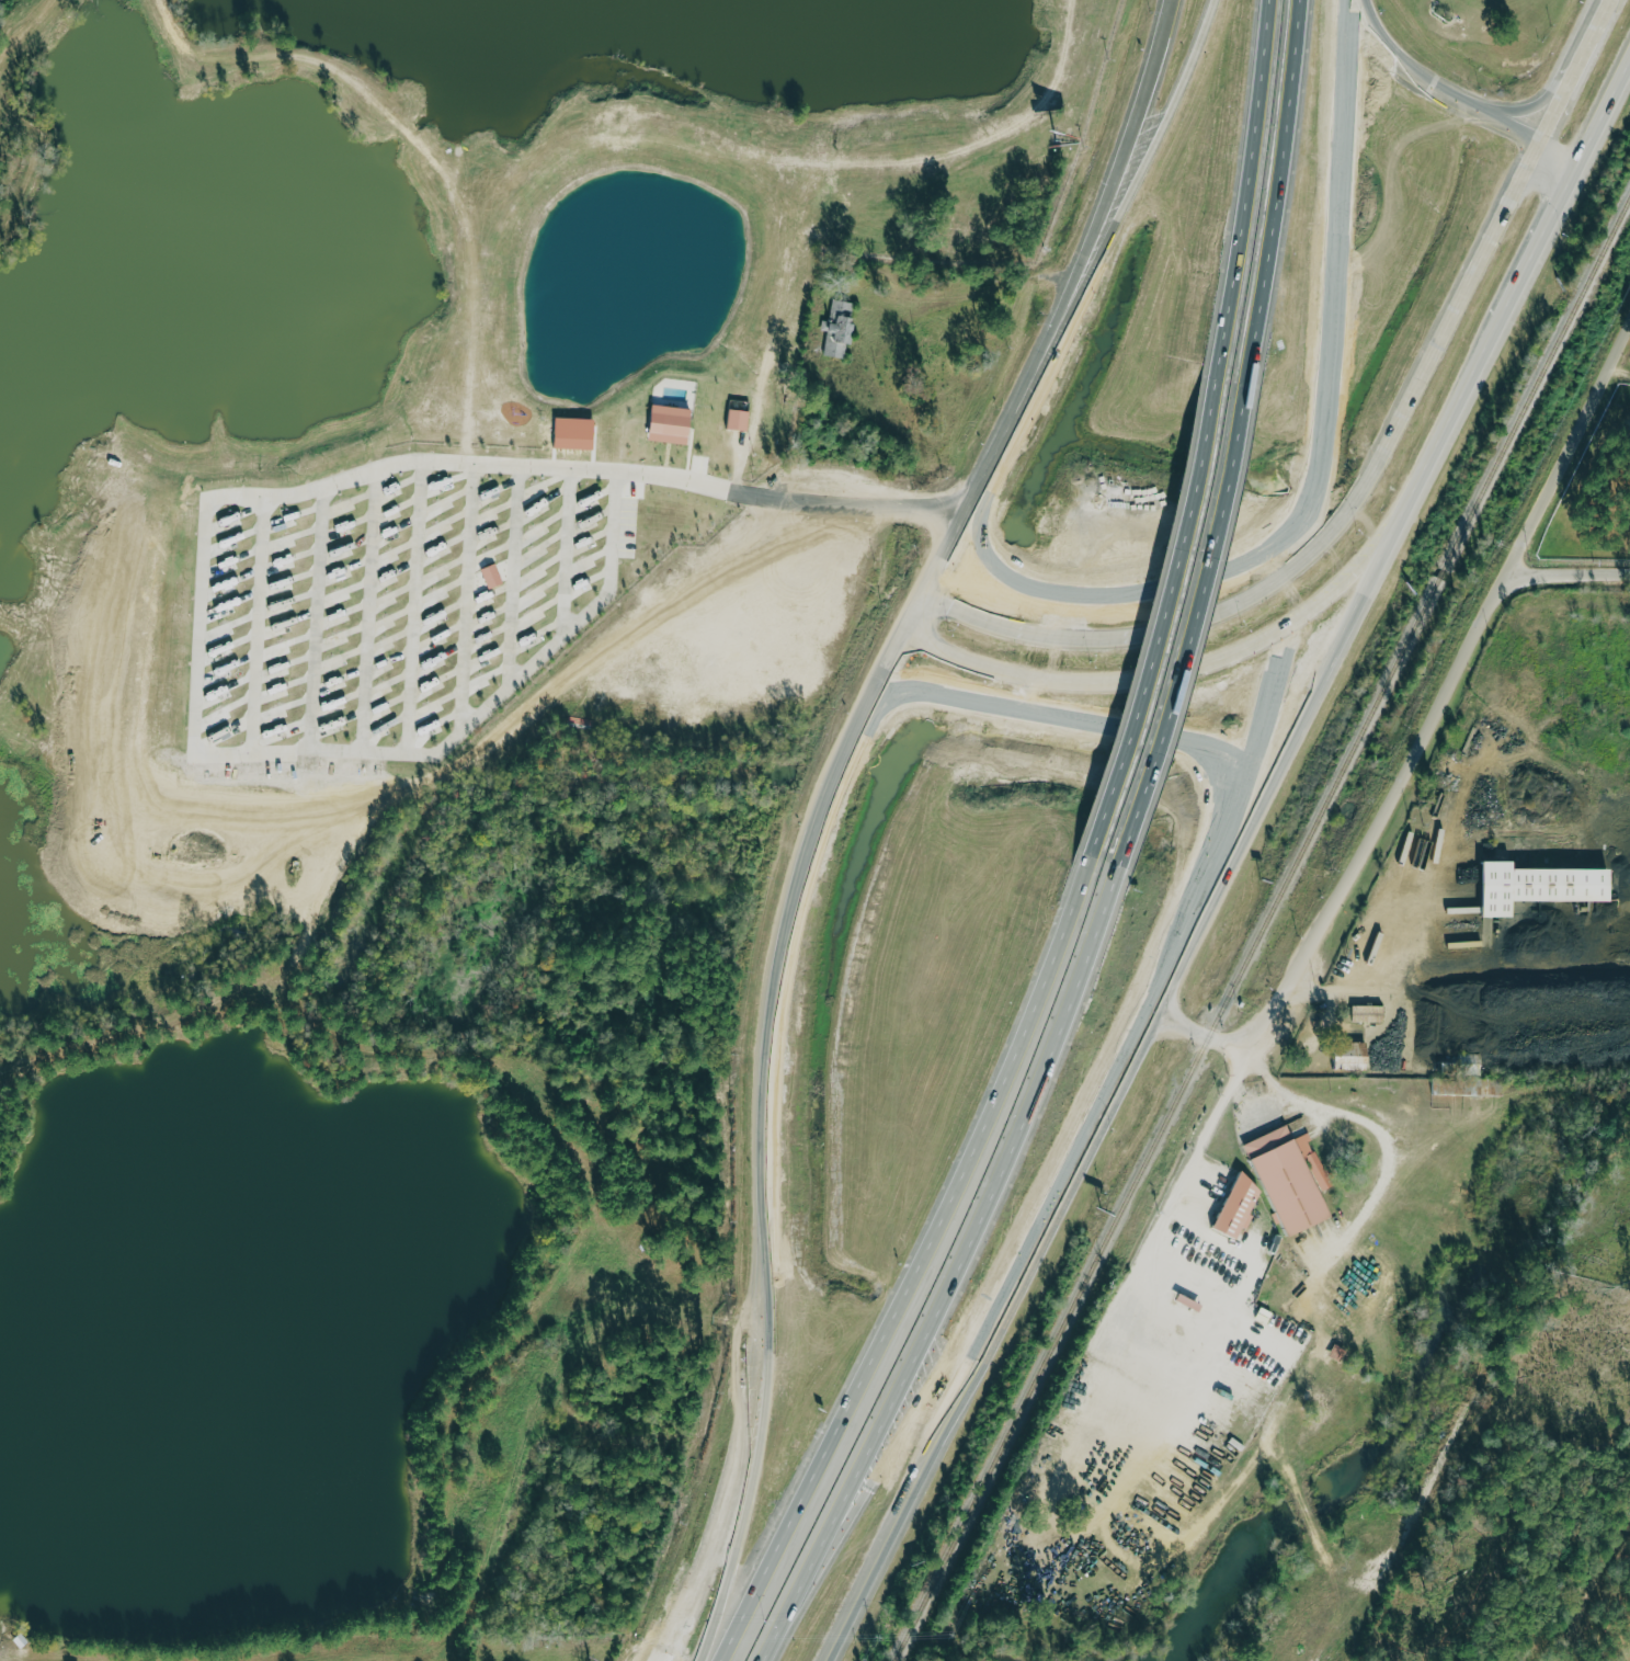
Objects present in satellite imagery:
road: (1552, 94)
road: (1457, 102)
road: (1127, 143)
road: (1250, 186)
road: (1277, 190)
road: (1147, 192)
road: (974, 305)
road: (1519, 314)
building: (841, 328)
road: (1061, 329)
building: (740, 419)
building: (672, 423)
road: (1379, 470)
road: (987, 486)
road: (762, 500)
building: (494, 576)
road: (1570, 577)
road: (1172, 615)
road: (1200, 624)
road: (1170, 672)
road: (197, 707)
road: (1062, 719)
road: (1427, 733)
road: (1278, 777)
building: (1532, 886)
road: (1196, 915)
railway: (1262, 929)
road: (787, 940)
building: (1370, 1013)
building: (1354, 1057)
building: (1471, 1063)
road: (1307, 1102)
road: (1211, 1128)
building: (1284, 1180)
building: (1241, 1205)
road: (965, 1268)
road: (930, 1270)
road: (995, 1340)
road: (730, 1489)
road: (753, 1489)

